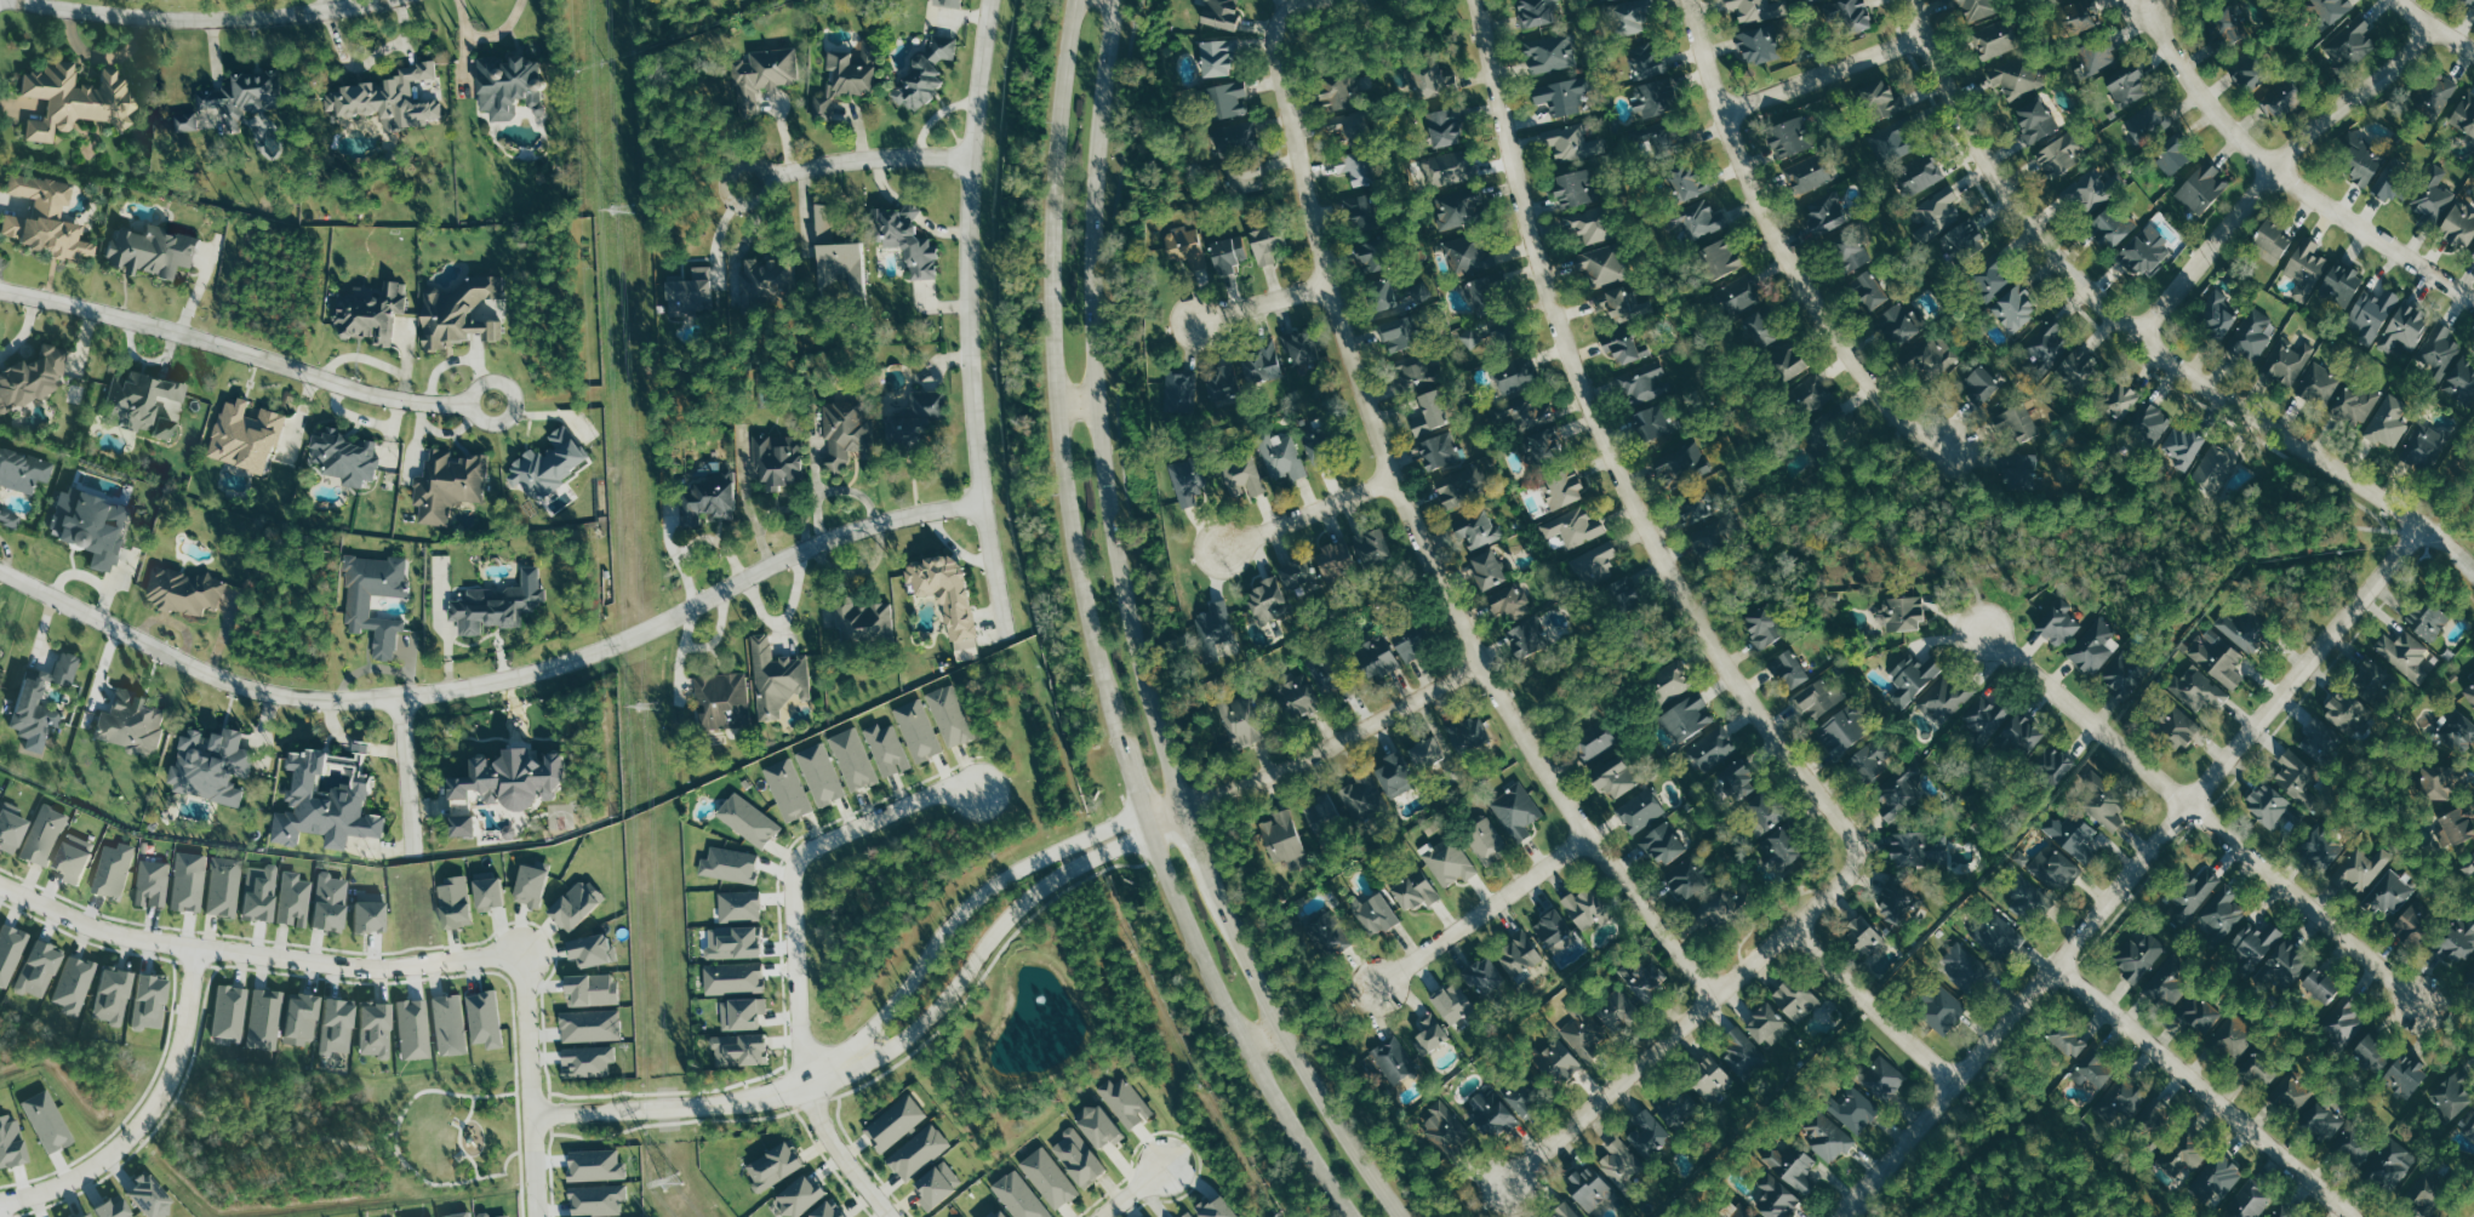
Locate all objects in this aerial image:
building: (1600, 0)
road: (339, 2)
building: (944, 2)
building: (2469, 2)
building: (1752, 8)
building: (1976, 8)
building: (2331, 10)
building: (1538, 11)
building: (1219, 13)
building: (1852, 15)
building: (2080, 16)
road: (192, 17)
building: (1634, 19)
building: (2232, 21)
road: (2439, 24)
road: (498, 28)
building: (1993, 40)
building: (2353, 41)
road: (464, 42)
building: (1754, 46)
building: (941, 47)
building: (1552, 53)
building: (2096, 55)
building: (1215, 57)
road: (105, 58)
building: (1647, 63)
road: (1828, 72)
building: (761, 75)
building: (2245, 76)
building: (2012, 78)
building: (1430, 80)
building: (915, 82)
building: (520, 87)
building: (2126, 87)
building: (1331, 91)
building: (2435, 93)
building: (399, 97)
building: (1560, 97)
building: (1652, 98)
building: (1224, 99)
building: (1878, 99)
building: (80, 101)
building: (239, 101)
building: (2274, 102)
building: (2464, 114)
building: (2034, 119)
building: (2148, 121)
building: (1347, 125)
building: (1444, 127)
building: (1789, 136)
building: (1233, 138)
building: (1889, 142)
building: (1572, 143)
building: (2059, 155)
building: (2169, 156)
road: (857, 158)
building: (2355, 158)
road: (2280, 166)
building: (1353, 167)
building: (1446, 168)
road: (2289, 171)
building: (1806, 173)
building: (1919, 175)
building: (1242, 178)
building: (1684, 183)
building: (1573, 187)
building: (2386, 187)
building: (2200, 188)
building: (2089, 190)
building: (2428, 202)
building: (1455, 211)
building: (1937, 213)
building: (1825, 215)
building: (50, 219)
building: (1699, 219)
building: (2461, 221)
building: (1585, 224)
building: (825, 225)
building: (2108, 227)
power tower: (623, 229)
road: (722, 230)
building: (1364, 233)
building: (2276, 233)
building: (904, 238)
building: (1964, 239)
building: (1181, 242)
building: (1263, 244)
road: (1788, 245)
building: (2142, 250)
building: (158, 252)
building: (1852, 252)
building: (1223, 255)
building: (2473, 255)
building: (1465, 256)
building: (1719, 258)
building: (842, 263)
building: (1600, 265)
building: (2306, 265)
building: (762, 280)
building: (2341, 285)
building: (1868, 290)
building: (691, 292)
road: (198, 293)
building: (1481, 293)
building: (1378, 295)
building: (1739, 295)
road: (1261, 299)
building: (1618, 303)
building: (2013, 307)
building: (2372, 312)
building: (465, 313)
building: (2216, 313)
road: (966, 319)
building: (1899, 324)
building: (2406, 324)
building: (1759, 330)
road: (2143, 333)
building: (1394, 335)
building: (2251, 336)
building: (2044, 343)
building: (1624, 349)
building: (2440, 353)
building: (1935, 359)
road: (245, 361)
building: (1787, 361)
building: (2289, 361)
building: (1261, 362)
building: (2076, 367)
building: (1513, 375)
building: (34, 382)
building: (1219, 383)
building: (1646, 383)
building: (1981, 383)
building: (2320, 385)
building: (1181, 390)
building: (2121, 399)
building: (1818, 401)
building: (2354, 402)
road: (1075, 404)
building: (156, 405)
building: (1427, 413)
building: (918, 422)
building: (1652, 422)
building: (2017, 422)
building: (2388, 422)
building: (2150, 423)
building: (1539, 430)
building: (844, 432)
building: (252, 435)
building: (2183, 445)
building: (2427, 448)
building: (1436, 452)
building: (1280, 455)
building: (344, 456)
building: (778, 459)
building: (556, 463)
building: (1680, 465)
building: (2215, 468)
building: (25, 470)
building: (2018, 472)
building: (1242, 476)
building: (1187, 482)
building: (446, 484)
building: (1461, 486)
building: (1562, 487)
road: (1628, 496)
building: (707, 502)
road: (1305, 512)
building: (12, 516)
road: (1410, 525)
building: (1573, 527)
building: (102, 530)
building: (1478, 530)
building: (1370, 547)
building: (1595, 562)
building: (1316, 565)
road: (1973, 567)
building: (1485, 570)
building: (190, 590)
road: (1977, 596)
building: (945, 599)
building: (1265, 600)
building: (1505, 600)
building: (364, 606)
building: (501, 607)
building: (1901, 613)
building: (2427, 618)
building: (862, 622)
building: (2058, 623)
building: (1215, 624)
building: (1761, 627)
building: (2241, 632)
road: (1091, 635)
road: (1131, 638)
building: (1522, 639)
building: (1406, 644)
building: (2093, 647)
building: (2405, 656)
building: (1376, 657)
building: (2217, 658)
building: (1790, 669)
building: (1912, 678)
building: (2125, 678)
building: (776, 679)
road: (493, 681)
building: (1668, 682)
building: (2371, 682)
building: (2199, 690)
building: (2469, 693)
building: (1296, 696)
building: (1947, 697)
building: (1817, 698)
building: (720, 701)
power tower: (647, 704)
building: (46, 705)
building: (2343, 713)
building: (950, 716)
building: (1687, 716)
building: (1983, 720)
building: (1240, 721)
building: (130, 722)
building: (2176, 726)
building: (918, 730)
building: (1841, 731)
building: (2456, 732)
building: (1465, 735)
building: (2021, 736)
building: (2320, 737)
road: (1333, 742)
building: (1592, 742)
building: (886, 749)
building: (1713, 749)
building: (1424, 753)
building: (853, 759)
building: (1870, 761)
building: (219, 765)
building: (2051, 765)
building: (821, 773)
road: (405, 775)
building: (1392, 775)
building: (524, 778)
building: (2298, 779)
building: (1615, 781)
building: (1736, 781)
building: (2440, 781)
building: (788, 789)
building: (1898, 795)
building: (1361, 796)
building: (333, 801)
building: (1, 802)
building: (2102, 804)
building: (2268, 805)
building: (1640, 810)
building: (1515, 811)
building: (1321, 813)
building: (1761, 813)
road: (2201, 816)
building: (747, 819)
building: (478, 825)
building: (2455, 827)
building: (15, 828)
building: (48, 834)
building: (2074, 836)
building: (1282, 838)
building: (1484, 838)
building: (1662, 844)
building: (2321, 847)
building: (1779, 849)
building: (1916, 850)
building: (80, 857)
building: (1449, 862)
building: (729, 864)
building: (2469, 865)
building: (118, 869)
road: (2129, 869)
building: (2053, 870)
building: (2362, 870)
building: (193, 881)
building: (156, 882)
building: (1685, 882)
building: (539, 884)
building: (228, 886)
building: (497, 891)
building: (1413, 891)
building: (264, 892)
building: (1896, 895)
building: (2024, 895)
building: (2190, 895)
building: (2389, 895)
road: (973, 898)
building: (298, 899)
building: (462, 899)
building: (336, 902)
building: (582, 905)
building: (737, 907)
road: (1480, 907)
building: (1584, 907)
building: (1713, 909)
building: (1372, 913)
building: (0, 916)
building: (376, 916)
building: (2235, 926)
building: (2412, 926)
road: (993, 931)
building: (1553, 932)
building: (1326, 936)
building: (1998, 938)
building: (1867, 942)
building: (2453, 947)
building: (598, 949)
building: (12, 952)
road: (794, 953)
road: (256, 955)
building: (1516, 955)
building: (2138, 958)
road: (1750, 960)
building: (2284, 962)
building: (44, 969)
building: (1967, 969)
building: (1481, 977)
building: (732, 978)
building: (1642, 979)
building: (78, 984)
building: (2167, 985)
building: (2319, 985)
building: (598, 988)
fountain: (1039, 993)
building: (119, 995)
building: (156, 1000)
building: (1794, 1000)
building: (1449, 1004)
road: (1869, 1004)
building: (1941, 1007)
building: (234, 1012)
building: (741, 1013)
building: (2198, 1013)
building: (491, 1017)
building: (269, 1018)
building: (308, 1019)
building: (1598, 1023)
building: (343, 1024)
building: (455, 1024)
building: (596, 1024)
building: (1766, 1025)
building: (381, 1029)
building: (418, 1029)
road: (526, 1034)
building: (1429, 1034)
road: (1261, 1038)
building: (2232, 1040)
building: (2070, 1041)
building: (739, 1051)
building: (1742, 1051)
building: (2371, 1055)
building: (593, 1059)
building: (1393, 1061)
building: (1558, 1062)
building: (2256, 1073)
building: (2093, 1074)
building: (2405, 1075)
building: (1884, 1076)
building: (1707, 1079)
road: (2207, 1086)
road: (1609, 1087)
building: (2292, 1093)
building: (2451, 1095)
building: (2126, 1098)
building: (1124, 1101)
road: (679, 1105)
building: (1501, 1108)
building: (1678, 1108)
building: (1855, 1108)
road: (148, 1115)
building: (52, 1121)
building: (893, 1121)
building: (2321, 1122)
building: (1097, 1125)
building: (1446, 1127)
park: (445, 1130)
building: (1650, 1130)
building: (2468, 1135)
building: (1828, 1136)
road: (457, 1138)
building: (15, 1142)
road: (395, 1144)
building: (2353, 1149)
building: (918, 1150)
building: (1076, 1156)
building: (2183, 1156)
building: (1621, 1162)
building: (773, 1164)
building: (2390, 1164)
building: (601, 1165)
road: (532, 1166)
building: (1790, 1166)
building: (1047, 1177)
building: (2216, 1178)
power tower: (672, 1181)
road: (451, 1183)
building: (935, 1183)
building: (1588, 1188)
building: (2419, 1188)
road: (1131, 1192)
building: (156, 1195)
building: (796, 1195)
building: (1018, 1195)
building: (1776, 1198)
building: (602, 1199)
building: (2250, 1201)
building: (1215, 1207)
building: (120, 1209)
building: (1732, 1209)
building: (828, 1210)
building: (1564, 1211)
building: (996, 1213)
building: (92, 1215)
building: (464, 1215)
building: (501, 1215)
building: (1185, 1215)
building: (2286, 1215)
building: (440, 1216)
building: (961, 1216)

